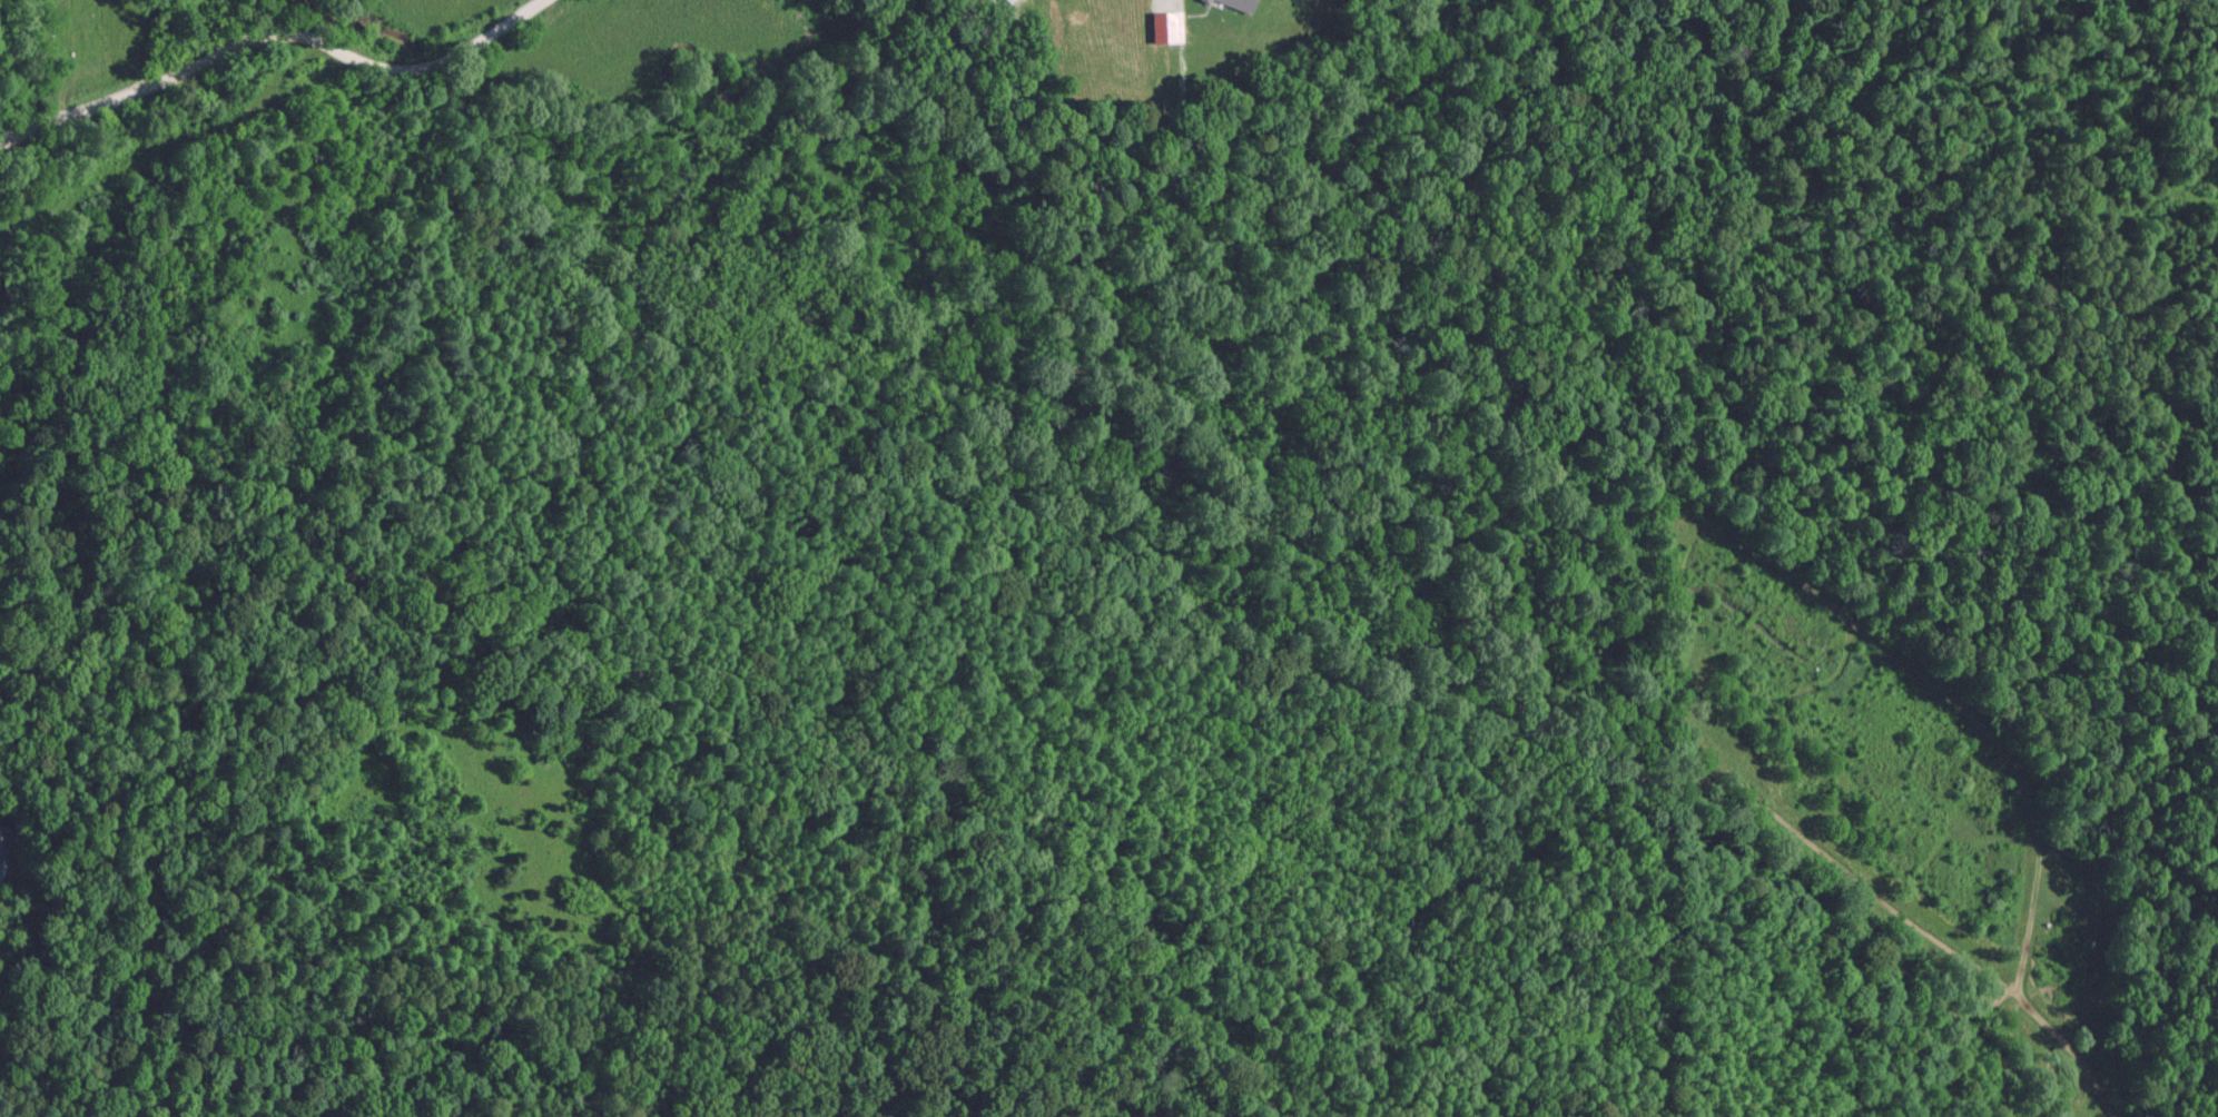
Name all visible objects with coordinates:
building: (1005, 0)
building: (1235, 4)
road: (267, 37)
building: (3, 841)

